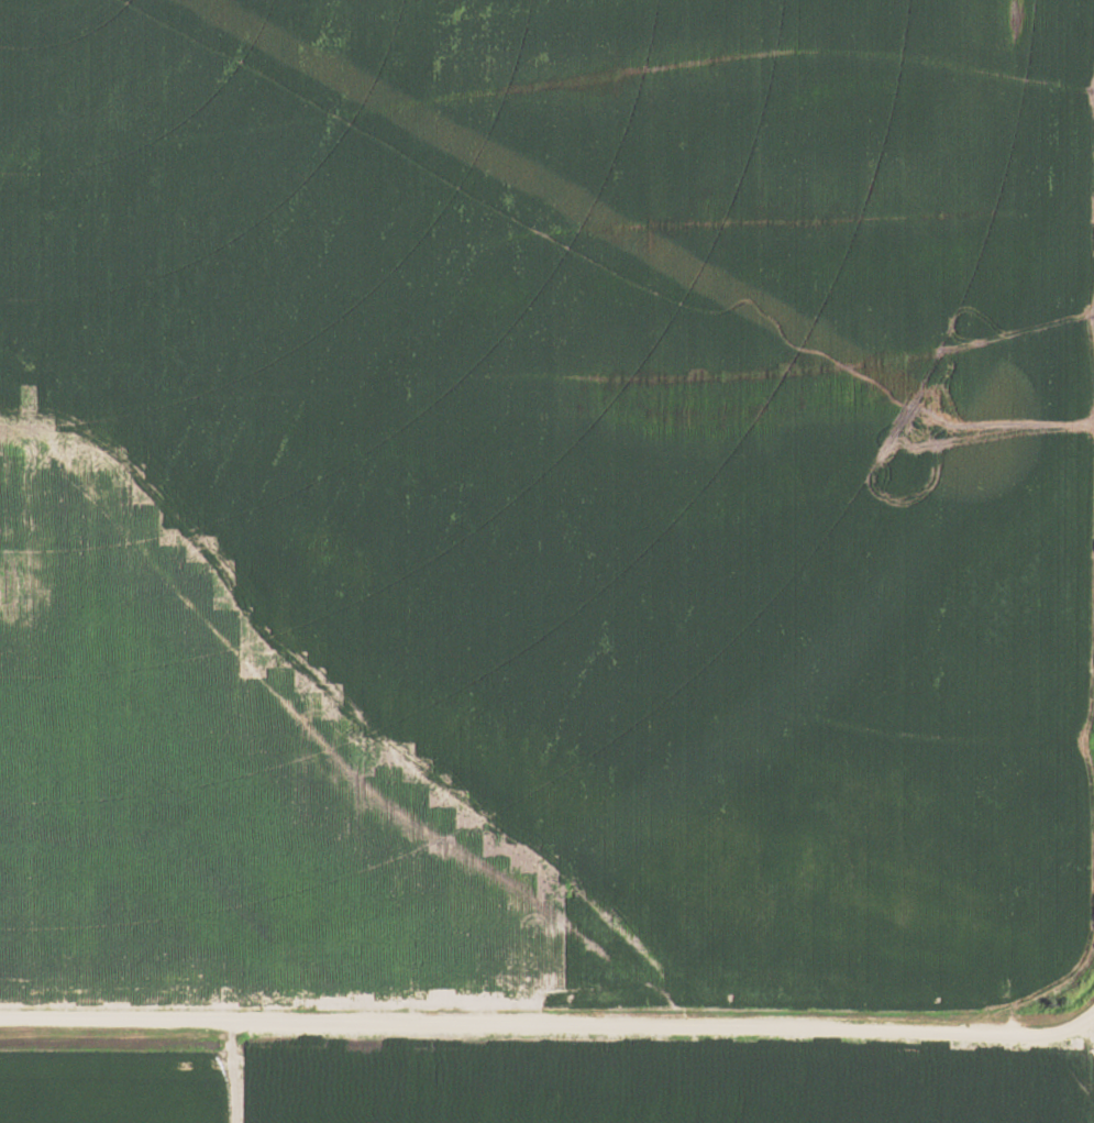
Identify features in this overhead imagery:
road: (551, 1024)
road: (242, 1072)

